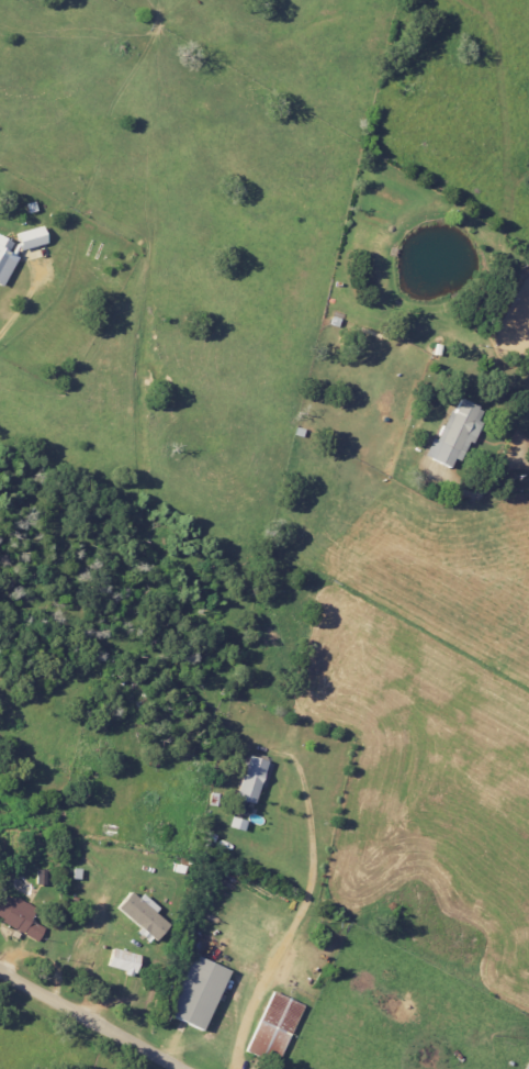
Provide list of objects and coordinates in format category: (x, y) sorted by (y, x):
building: (30, 237)
building: (4, 259)
road: (22, 298)
building: (453, 433)
road: (521, 464)
building: (249, 778)
road: (301, 901)
building: (142, 914)
building: (19, 915)
building: (122, 960)
building: (195, 992)
road: (88, 1020)
building: (273, 1027)
building: (527, 1066)

